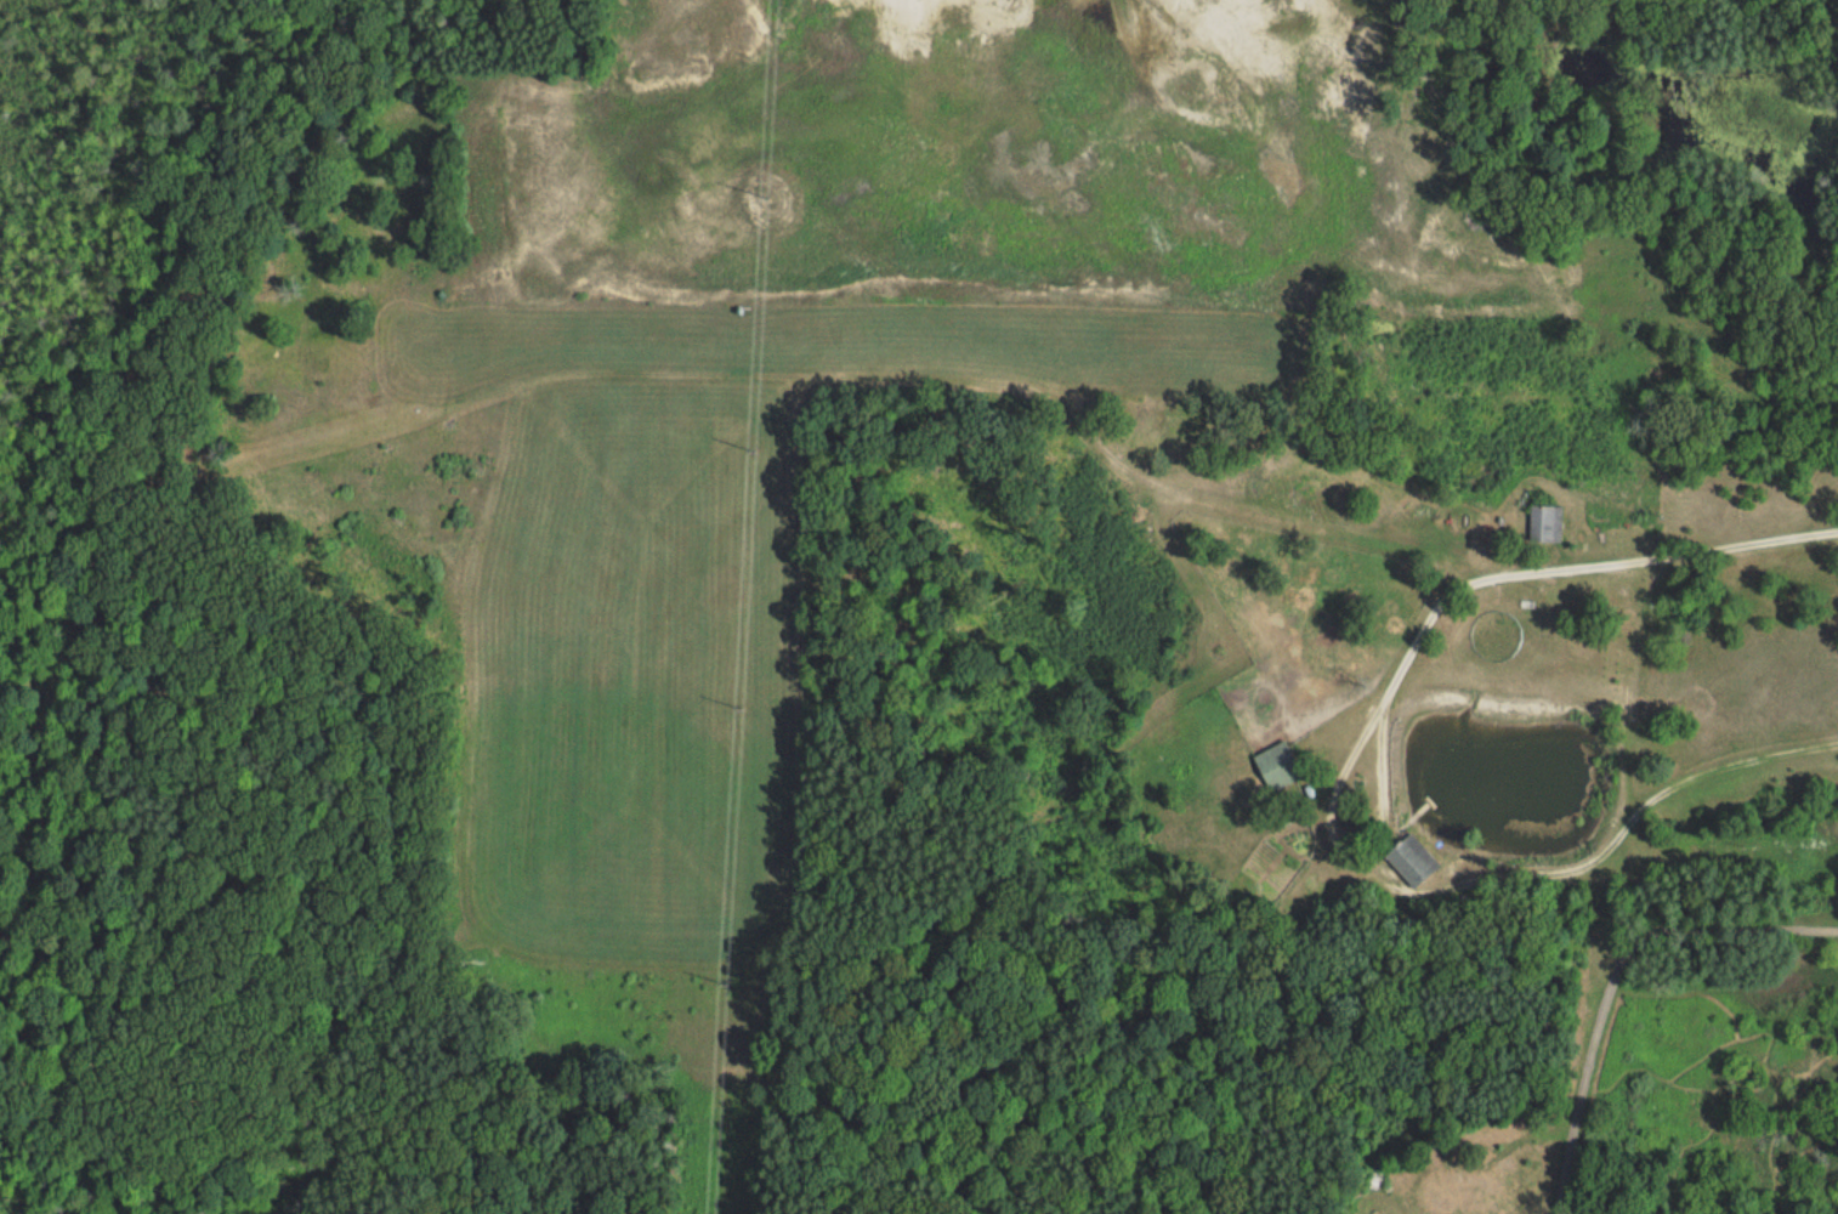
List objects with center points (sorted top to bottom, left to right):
building: (1542, 520)
building: (1276, 765)
road: (1333, 784)
building: (1409, 860)
road: (1610, 972)

